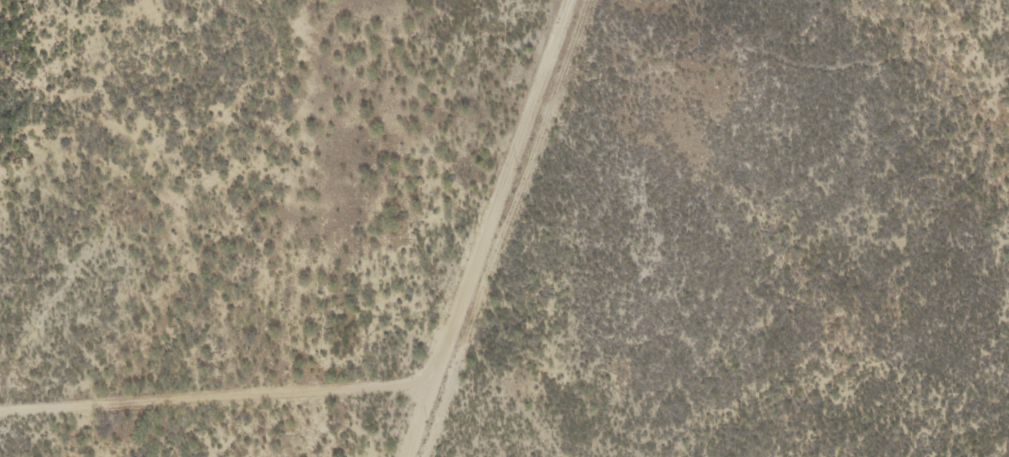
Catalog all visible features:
road: (506, 228)

